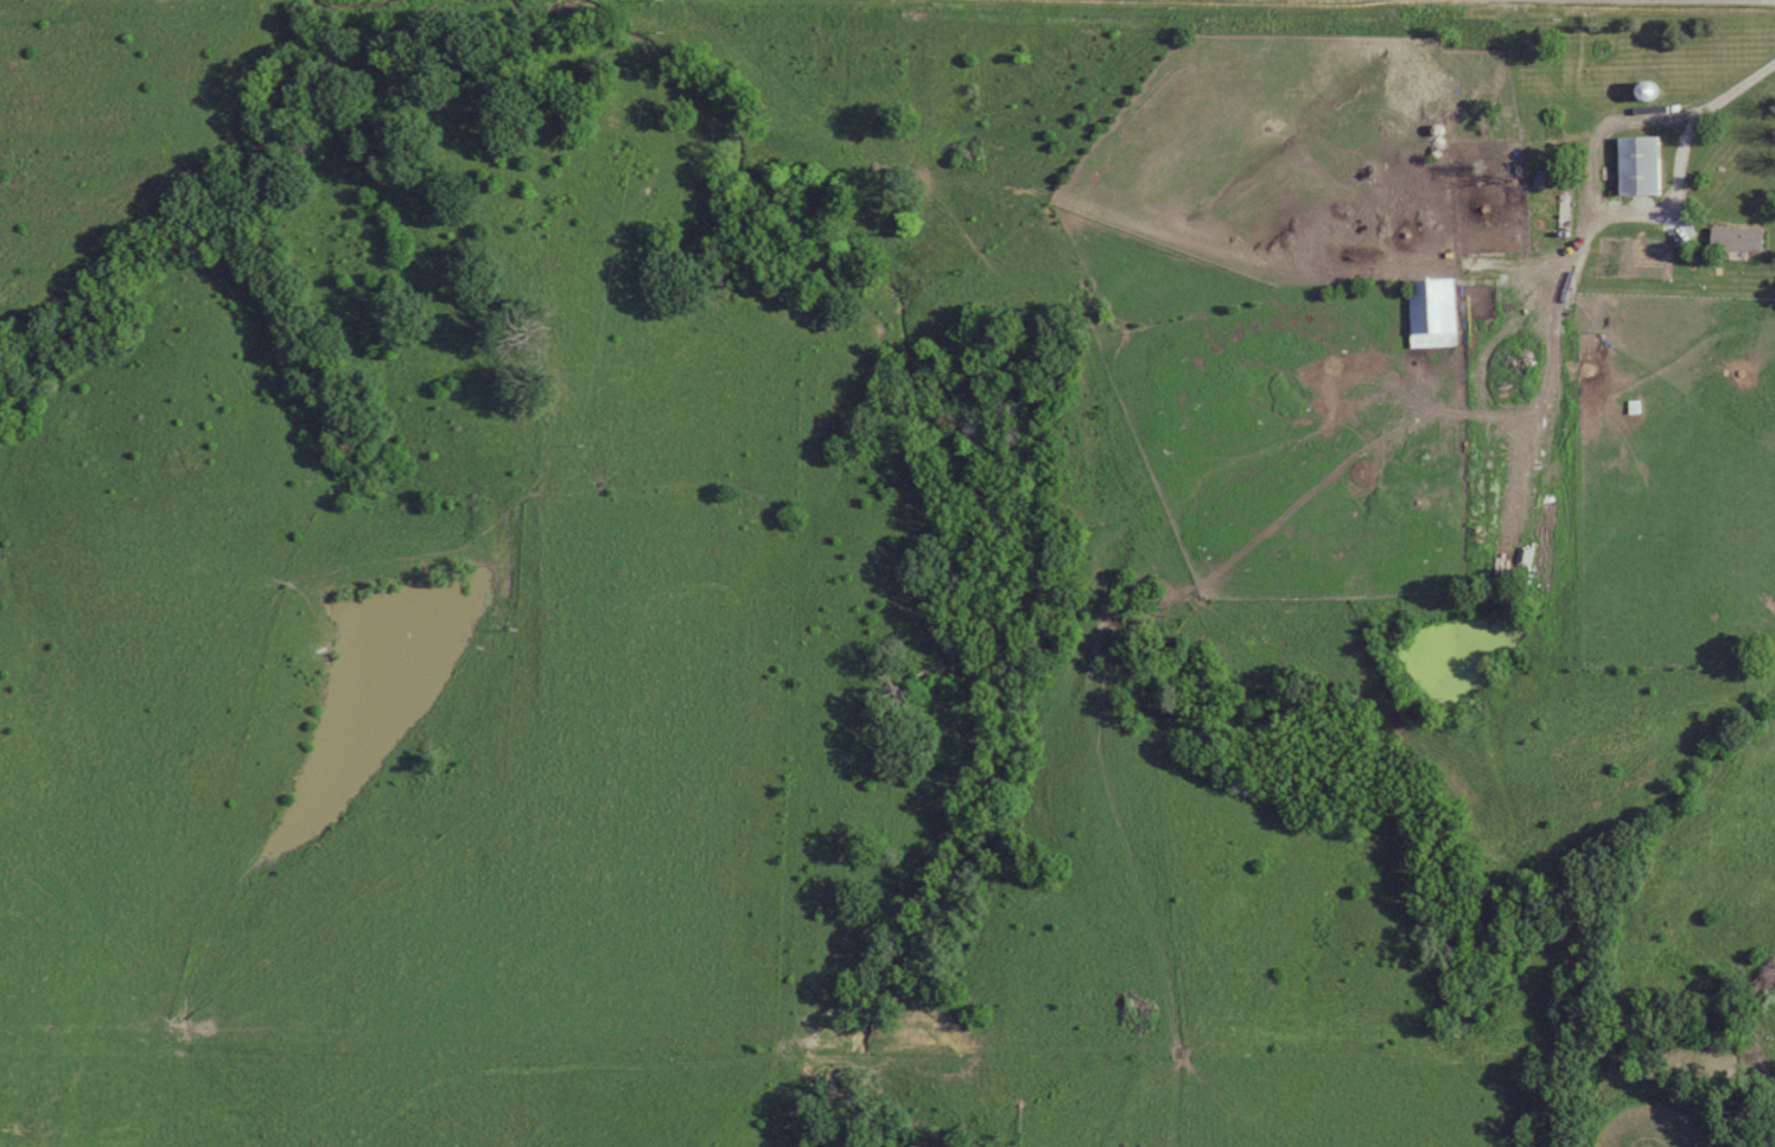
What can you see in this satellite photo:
building: (1635, 164)
building: (1735, 238)
building: (1431, 312)

